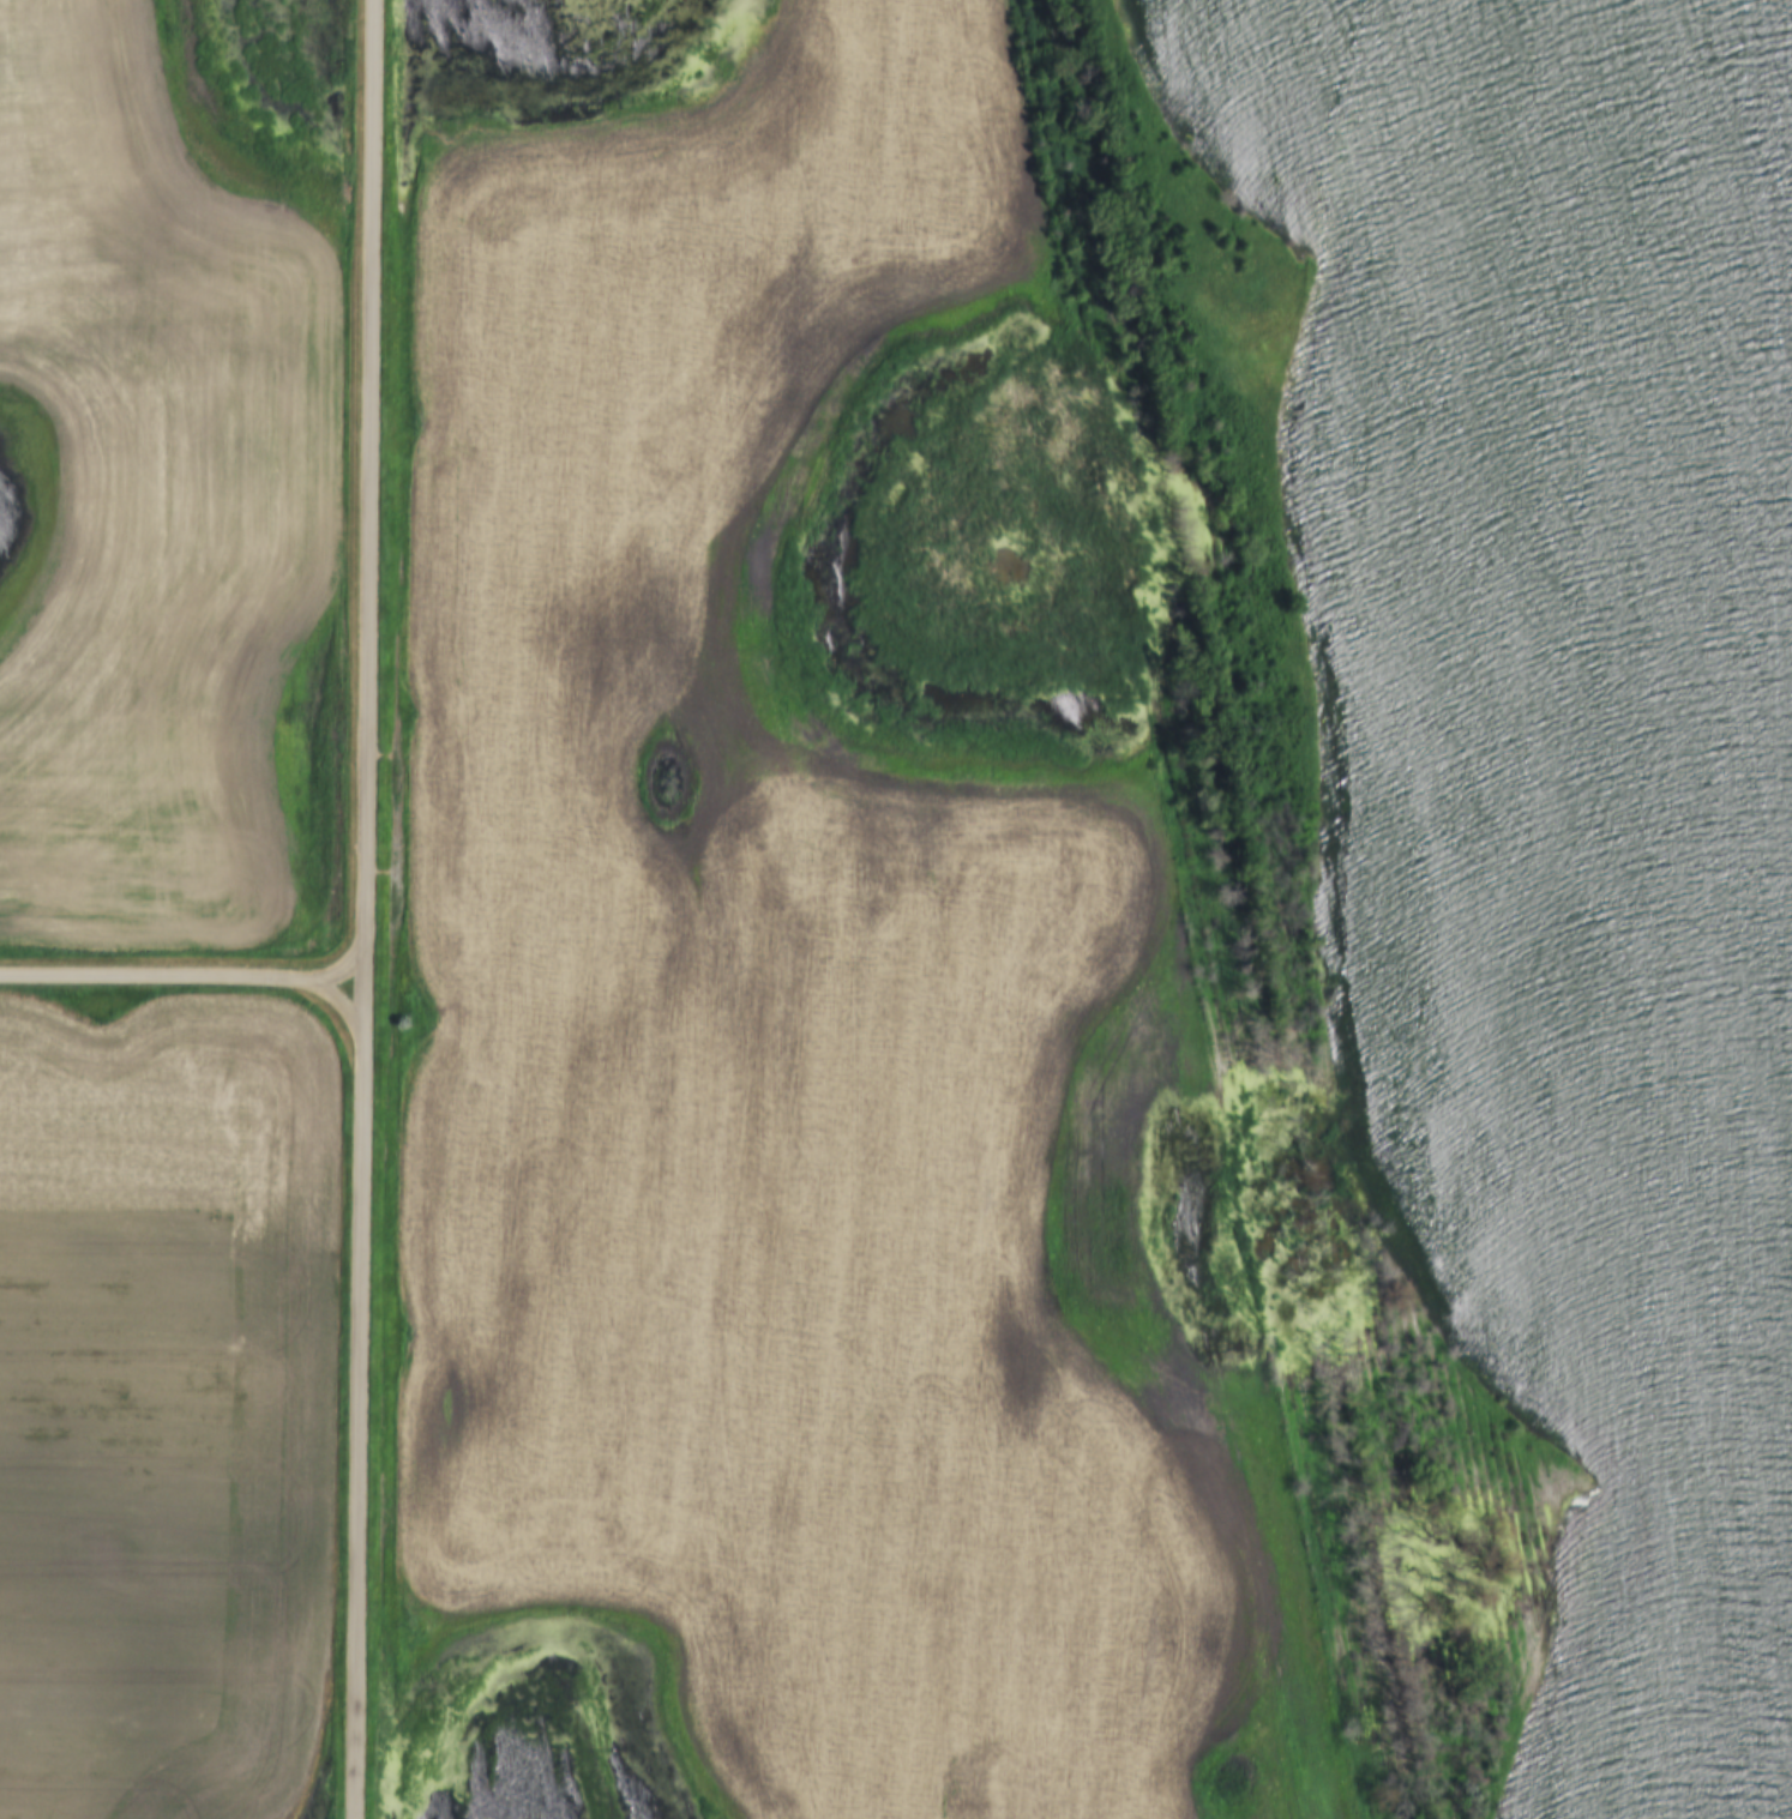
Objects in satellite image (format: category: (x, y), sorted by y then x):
road: (360, 909)
road: (179, 975)

